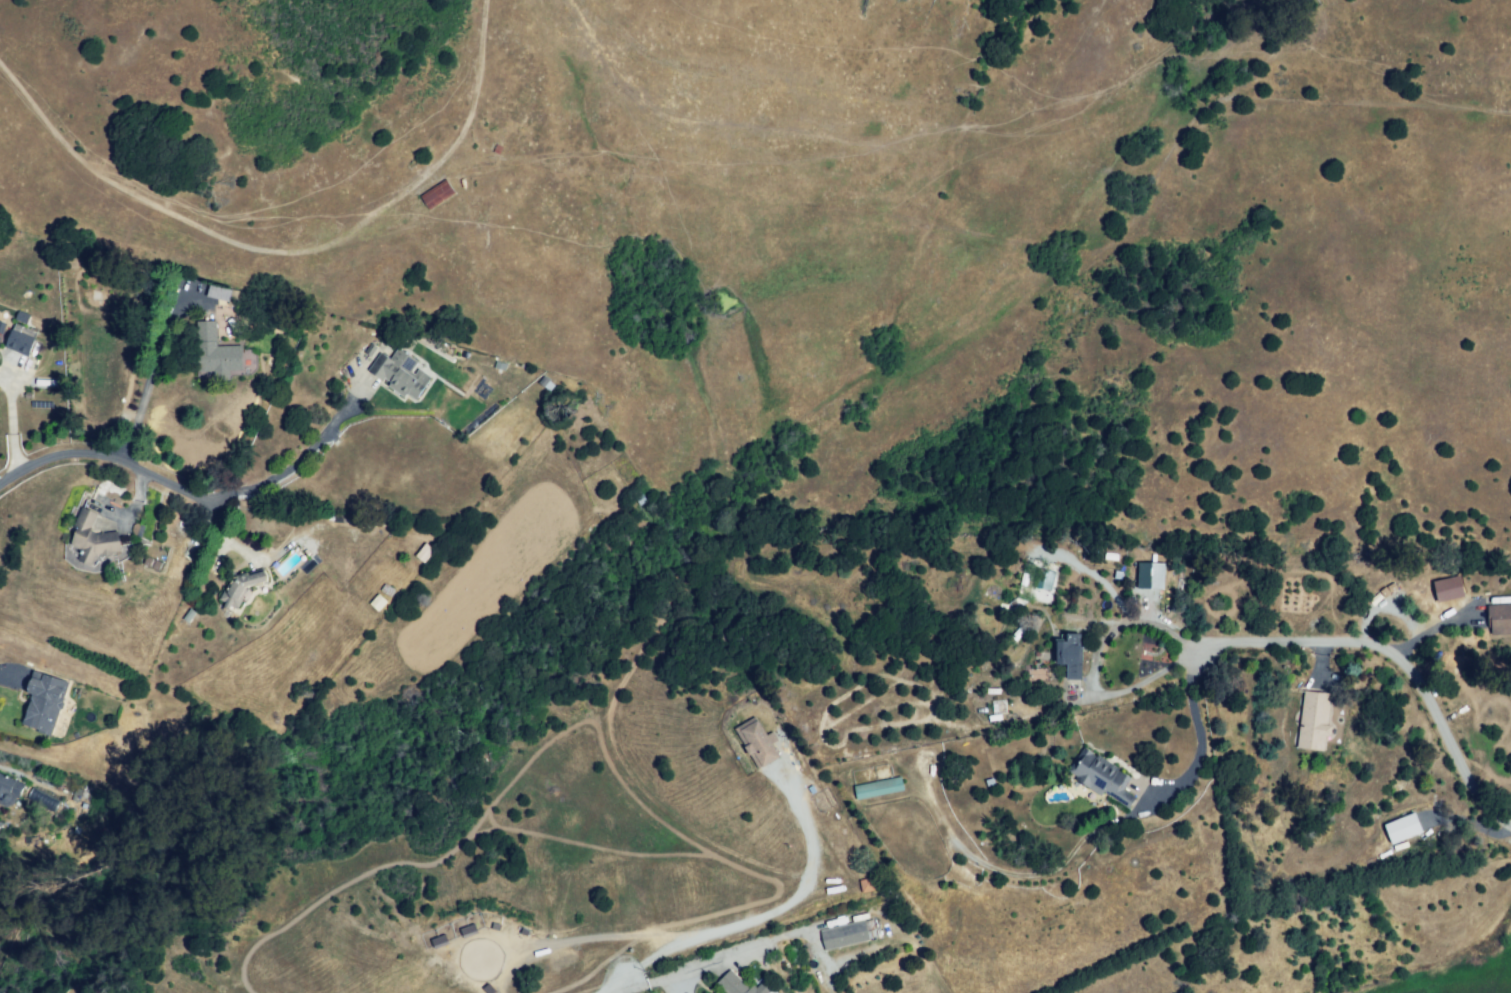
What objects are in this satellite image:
building: (439, 196)
road: (1017, 235)
road: (205, 240)
building: (18, 344)
building: (215, 352)
road: (154, 374)
building: (399, 374)
road: (10, 421)
road: (109, 461)
road: (294, 467)
building: (104, 493)
road: (133, 497)
building: (138, 533)
building: (91, 541)
building: (188, 555)
building: (423, 558)
building: (1149, 575)
building: (1042, 578)
building: (244, 586)
building: (1446, 588)
building: (187, 616)
building: (1501, 621)
building: (359, 632)
road: (1403, 654)
building: (1070, 657)
road: (1089, 671)
building: (1036, 673)
road: (7, 675)
building: (43, 706)
building: (1311, 721)
road: (1196, 725)
building: (755, 747)
building: (1097, 779)
building: (993, 784)
building: (9, 791)
building: (883, 792)
building: (42, 799)
building: (1401, 827)
building: (865, 884)
building: (467, 929)
building: (848, 937)
road: (732, 957)
building: (734, 984)

